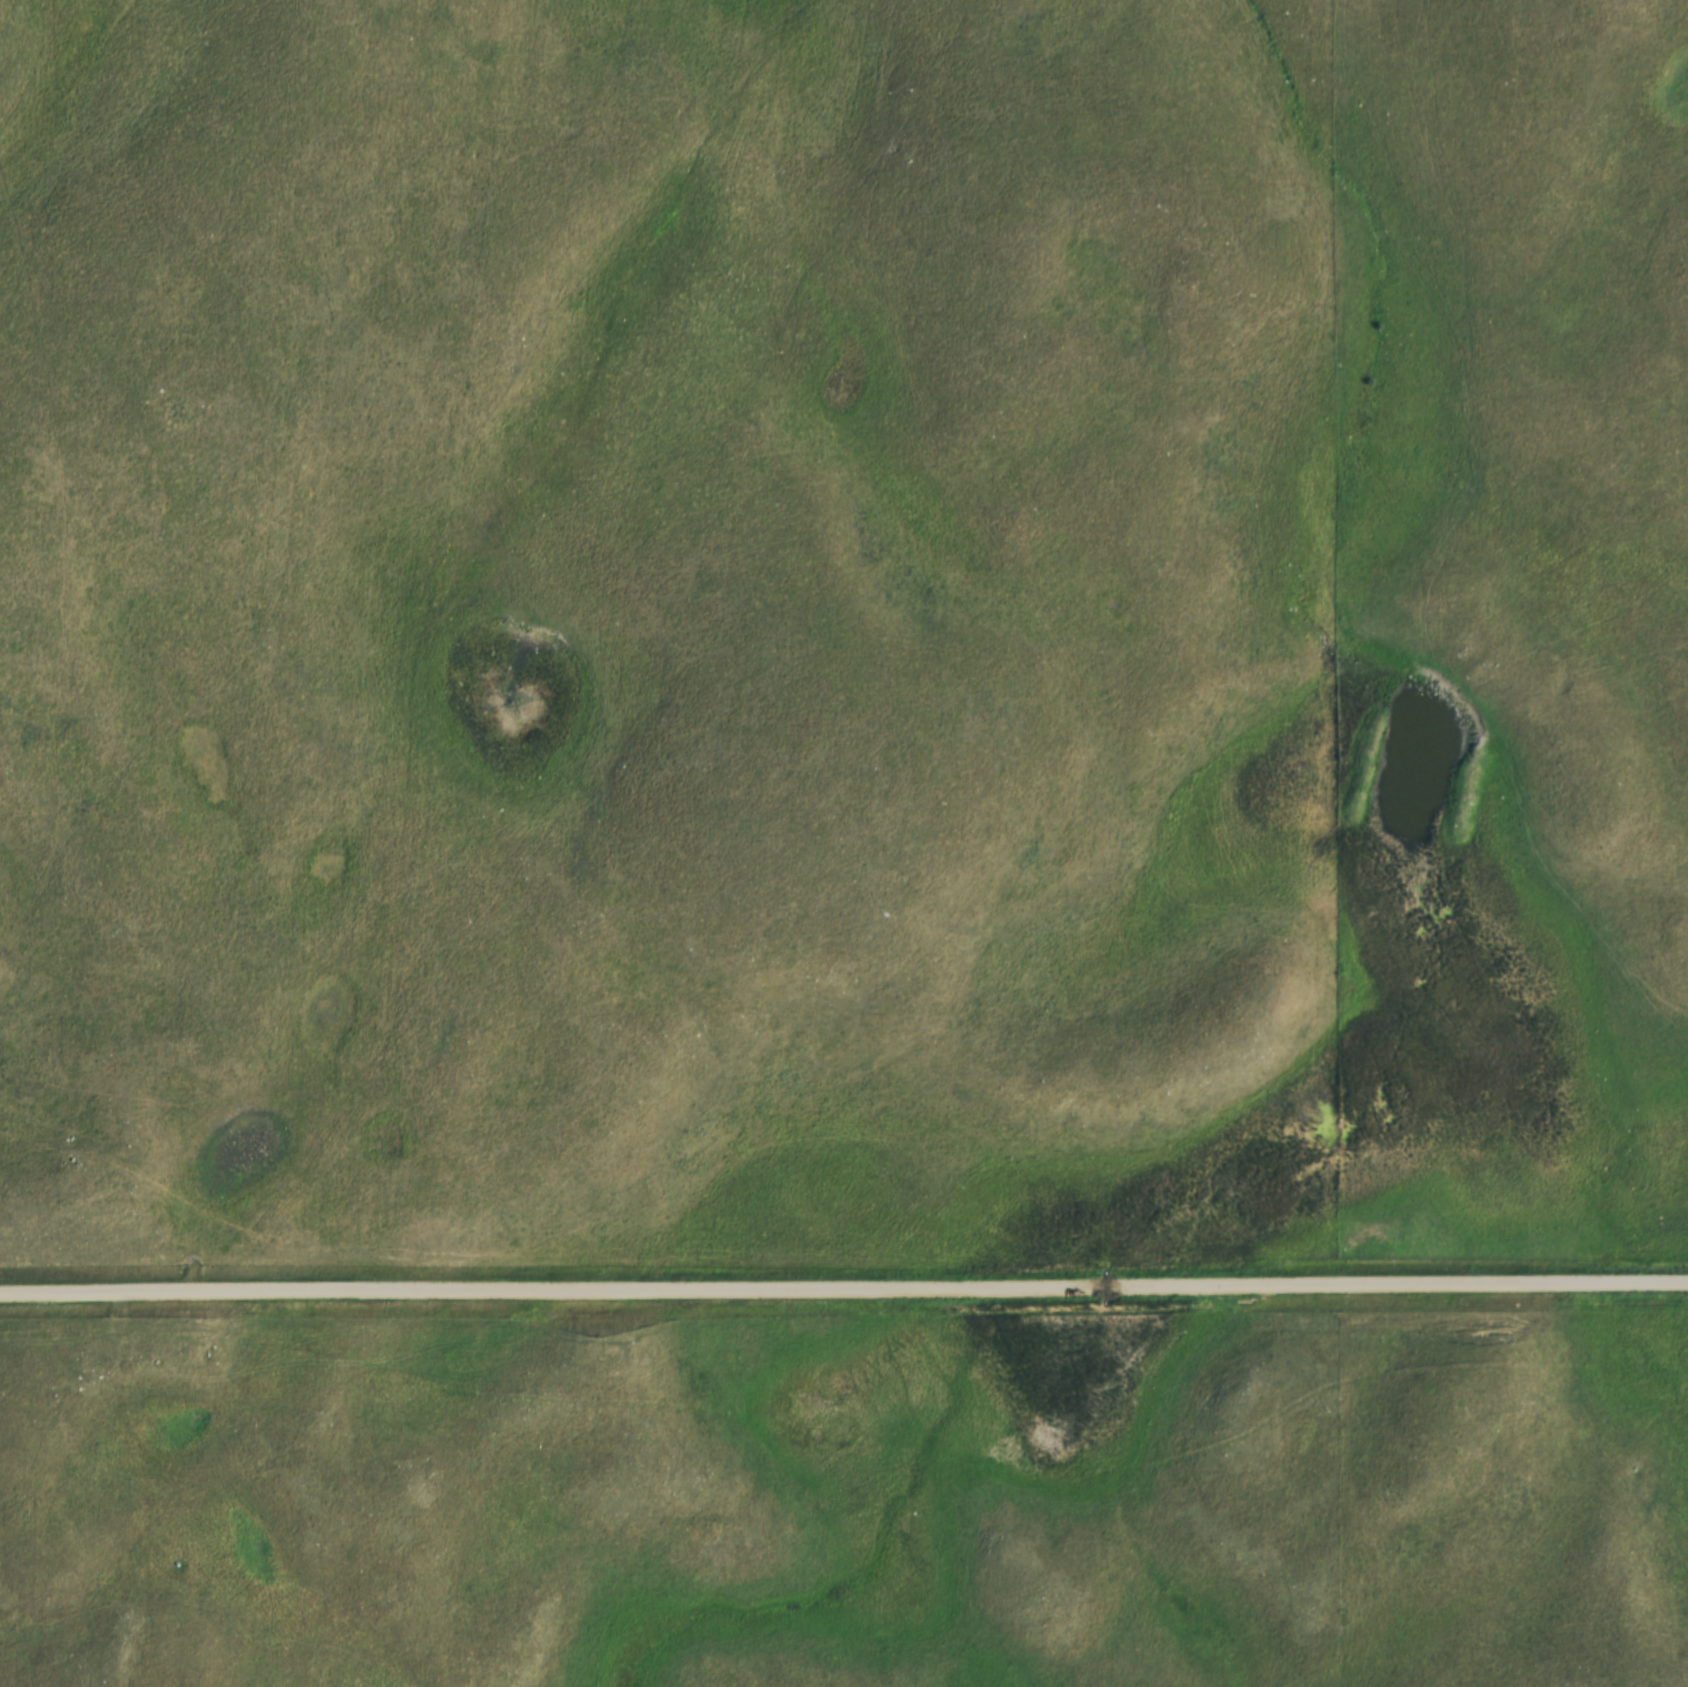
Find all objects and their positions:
river: (1513, 1110)
road: (844, 1297)
river: (1043, 1359)

